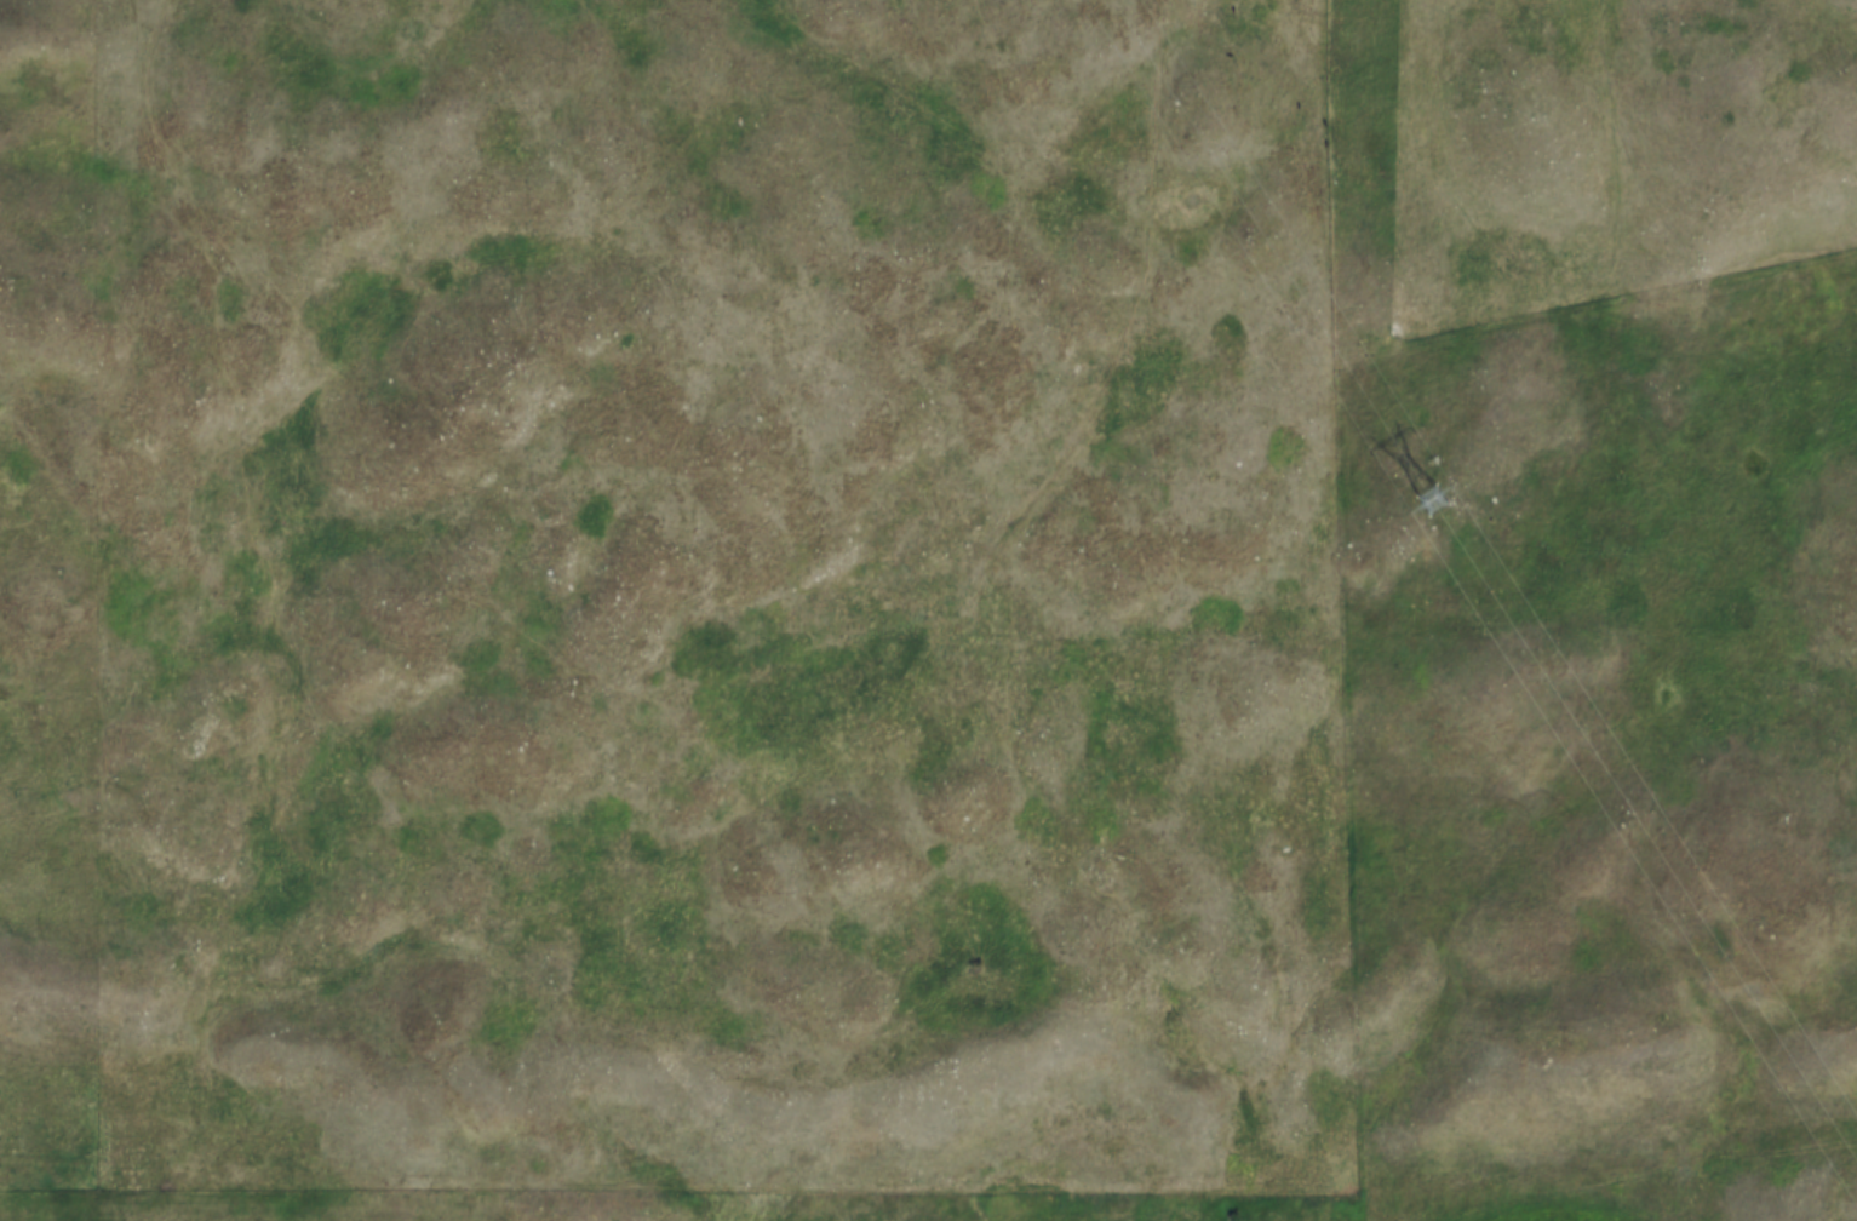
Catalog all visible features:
power tower: (1432, 505)

